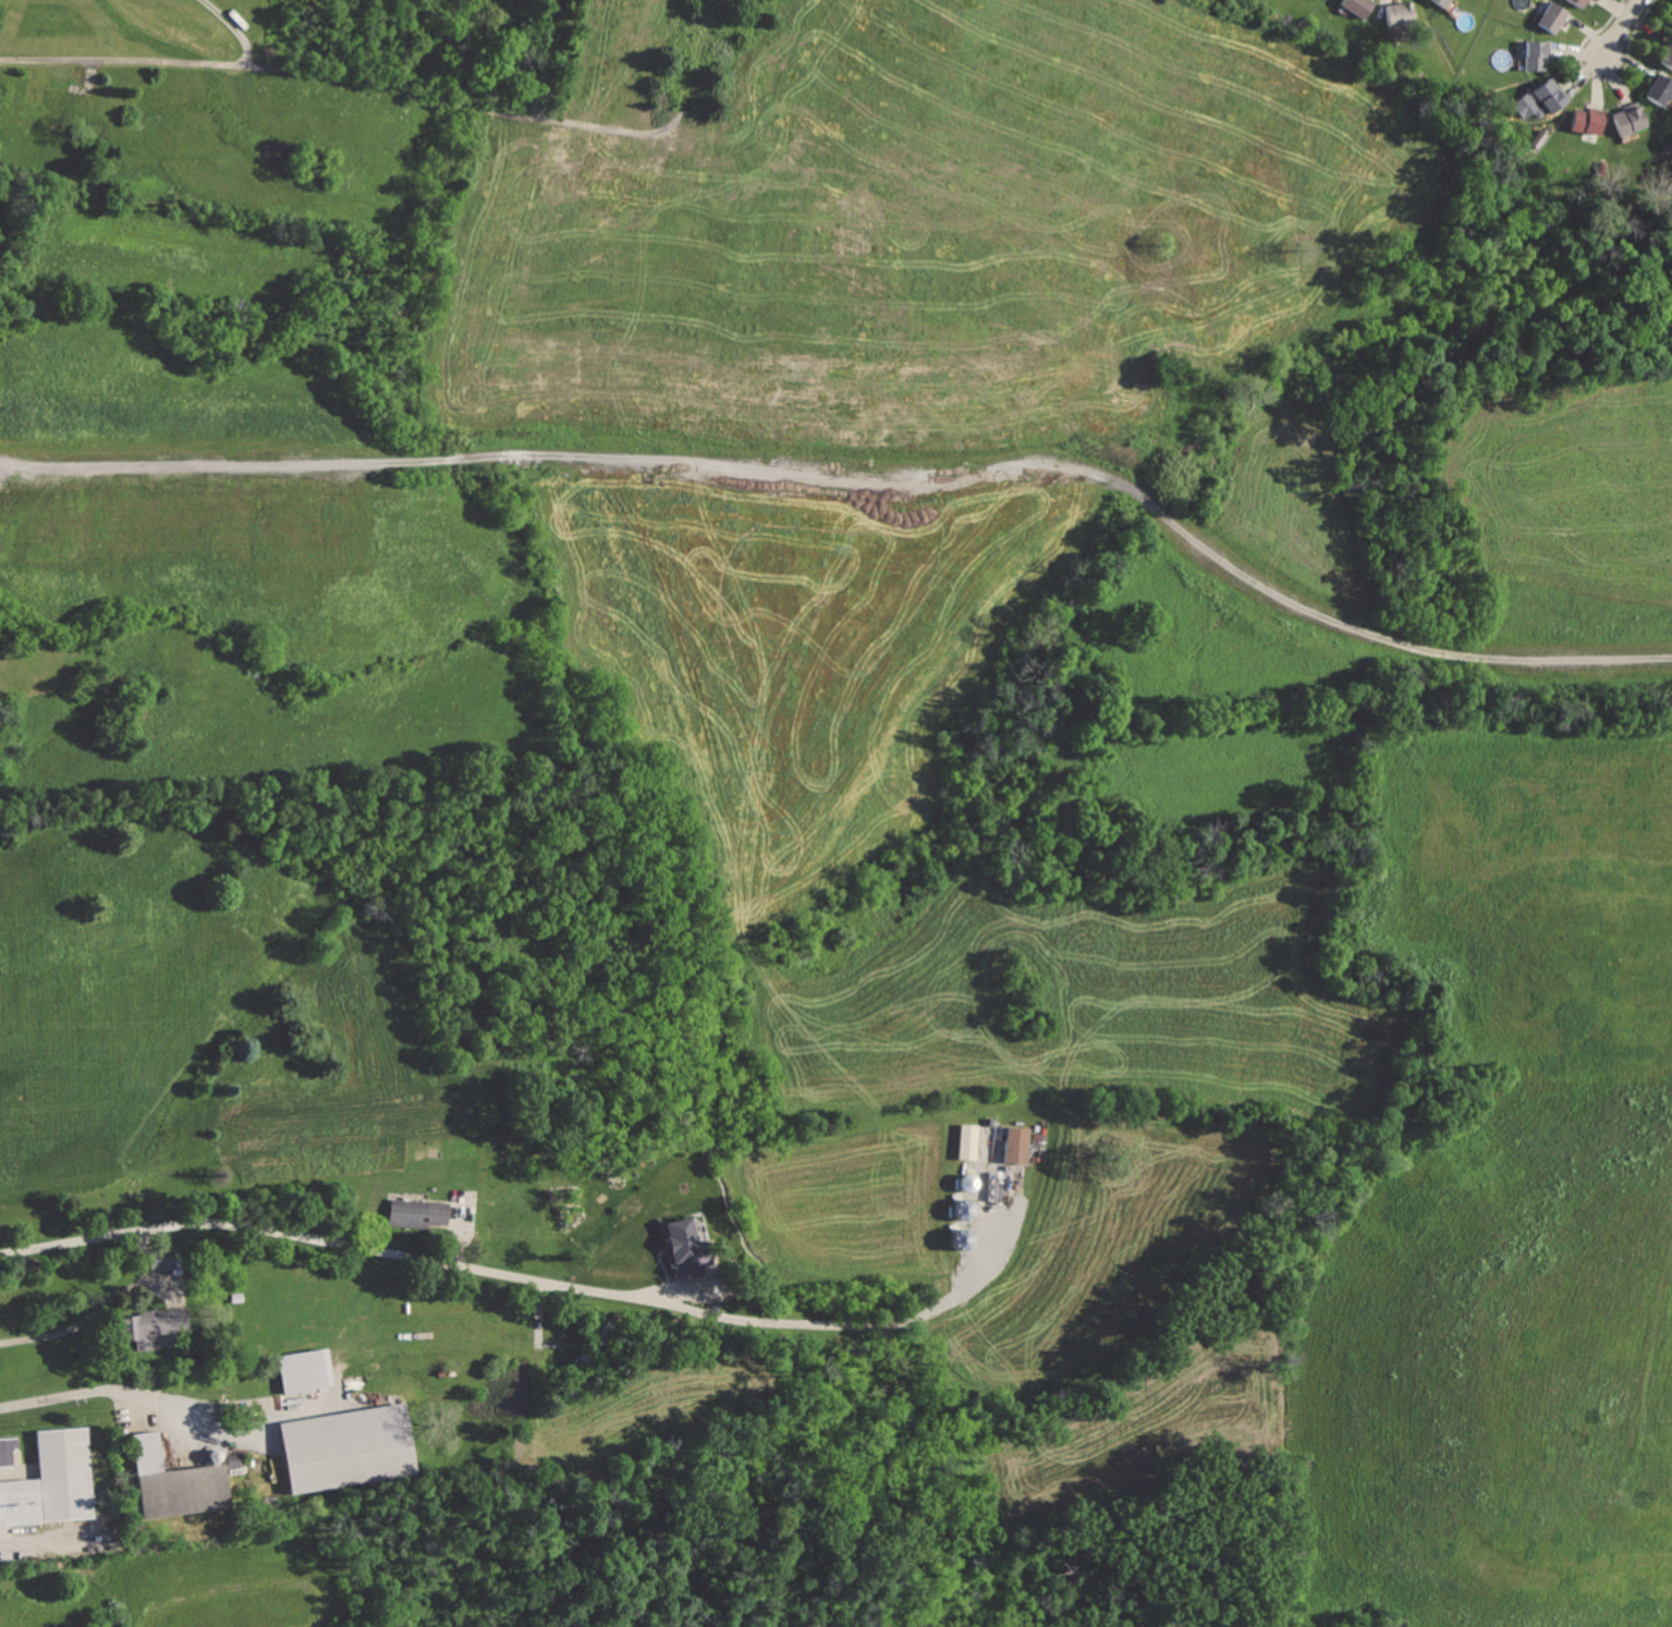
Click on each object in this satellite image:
building: (1583, 2)
building: (1442, 3)
building: (1360, 7)
building: (1401, 13)
building: (1554, 17)
road: (1622, 26)
building: (1539, 54)
building: (1668, 56)
road: (161, 60)
building: (1660, 90)
building: (1540, 100)
building: (1589, 119)
building: (1630, 122)
road: (861, 480)
building: (967, 1141)
building: (1016, 1143)
building: (418, 1212)
building: (684, 1243)
road: (537, 1277)
road: (89, 1318)
building: (151, 1324)
building: (304, 1370)
road: (109, 1393)
building: (349, 1446)
building: (10, 1453)
building: (178, 1480)
building: (53, 1482)

